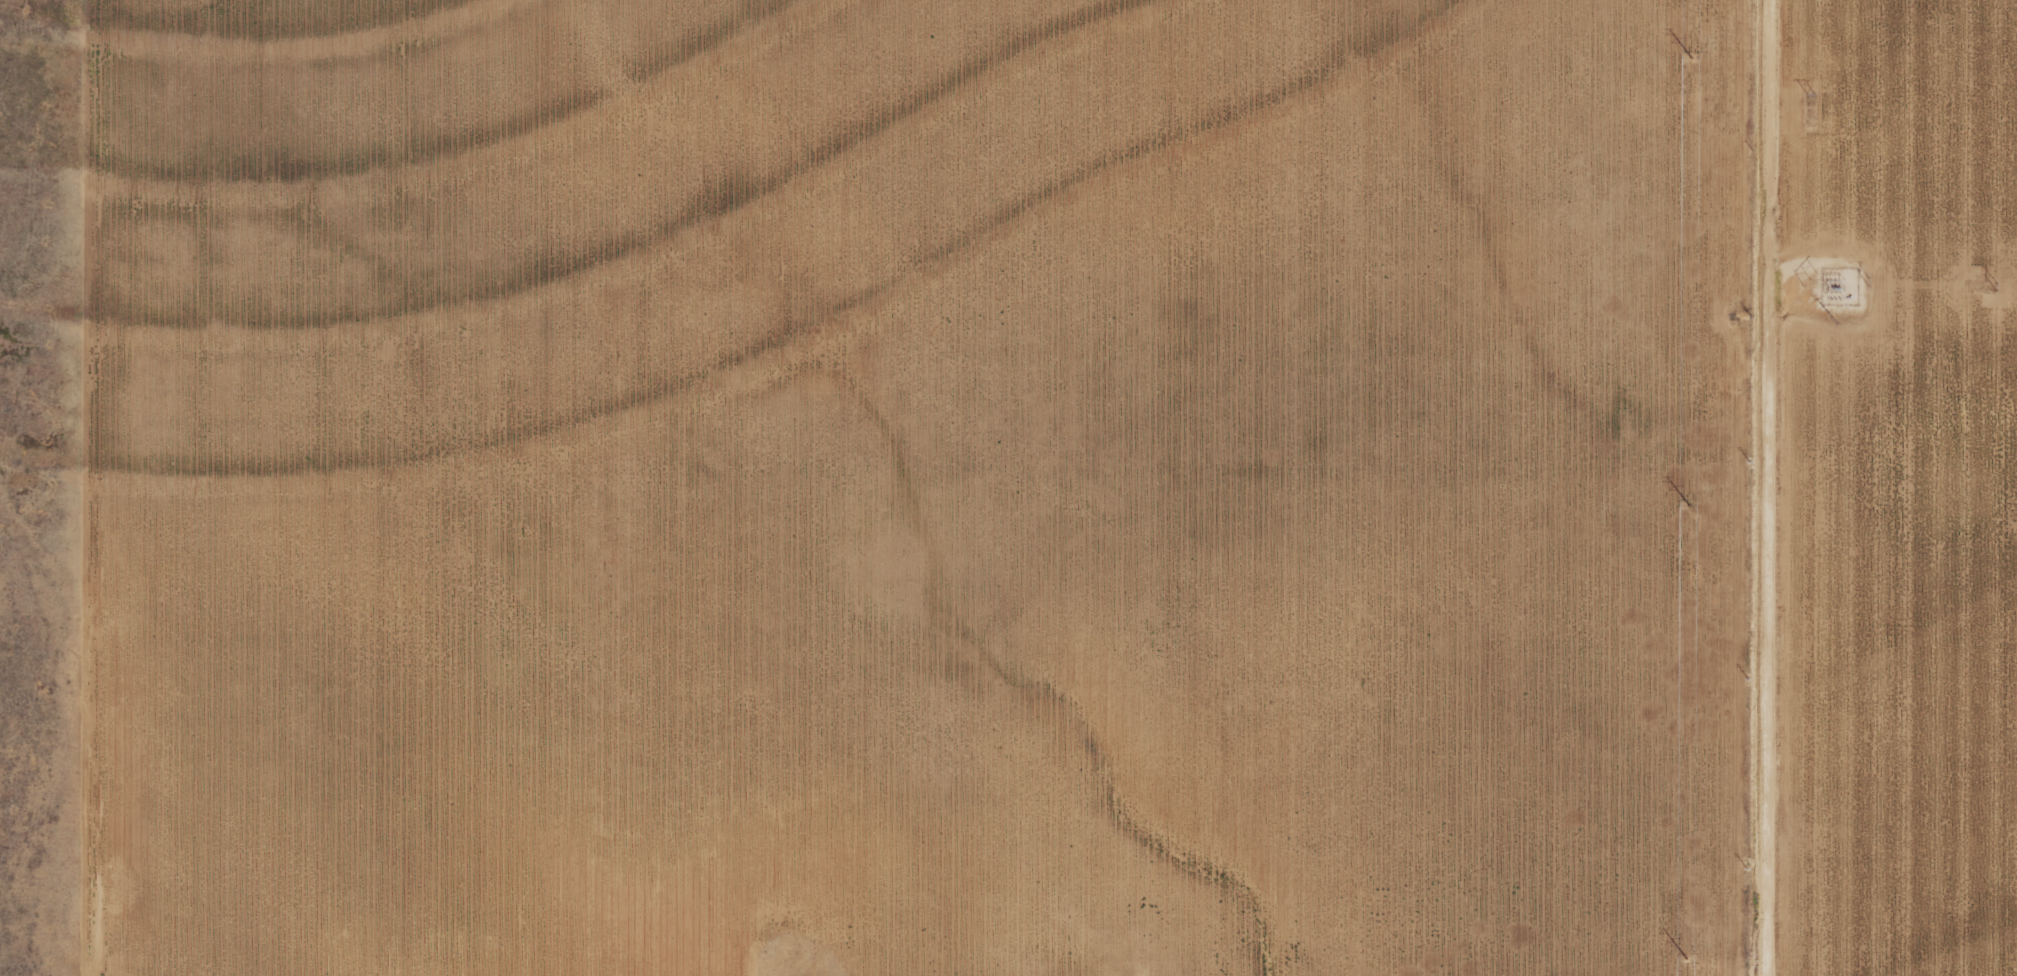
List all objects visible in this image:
power tower: (1678, 60)
power tower: (1808, 93)
power tower: (1868, 280)
power tower: (1811, 281)
power substation: (1840, 285)
power tower: (1994, 286)
power tower: (1835, 317)
road: (1725, 488)
power tower: (1678, 510)
power tower: (1674, 962)

